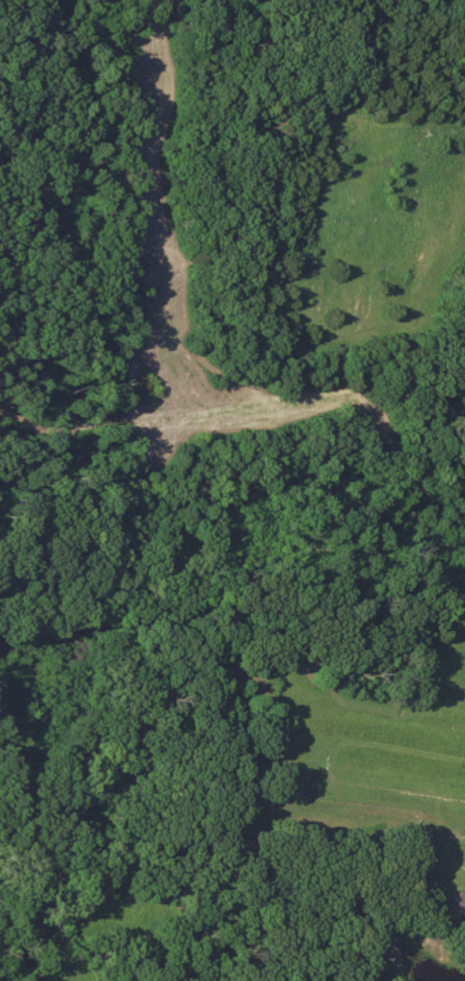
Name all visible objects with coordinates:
road: (444, 891)

